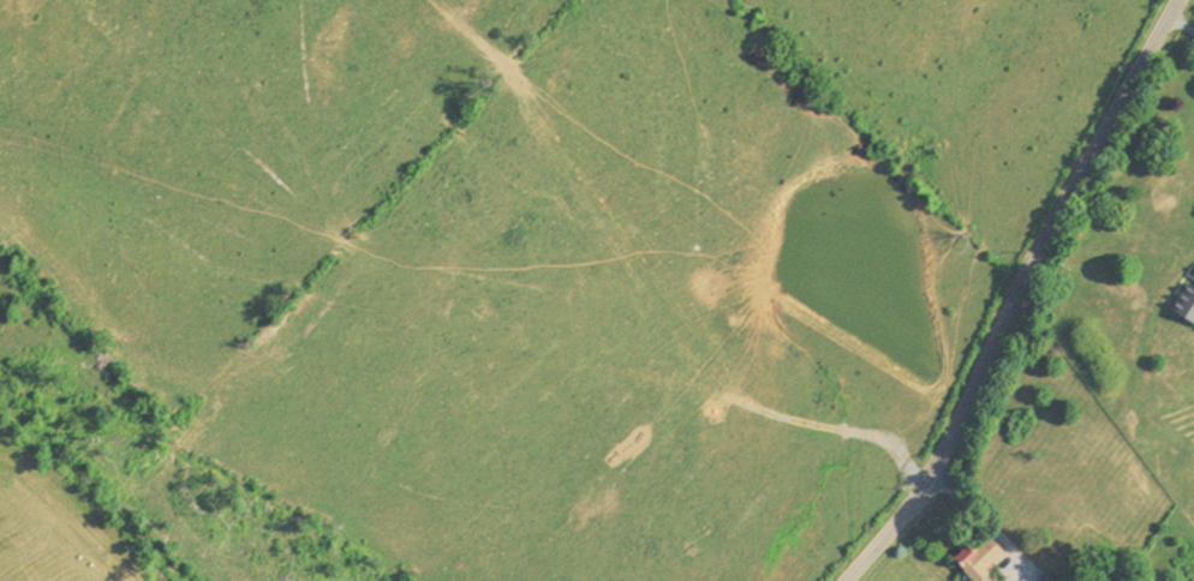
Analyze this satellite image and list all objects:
road: (1180, 26)
road: (1014, 294)
building: (1183, 300)
road: (987, 527)
building: (969, 561)

